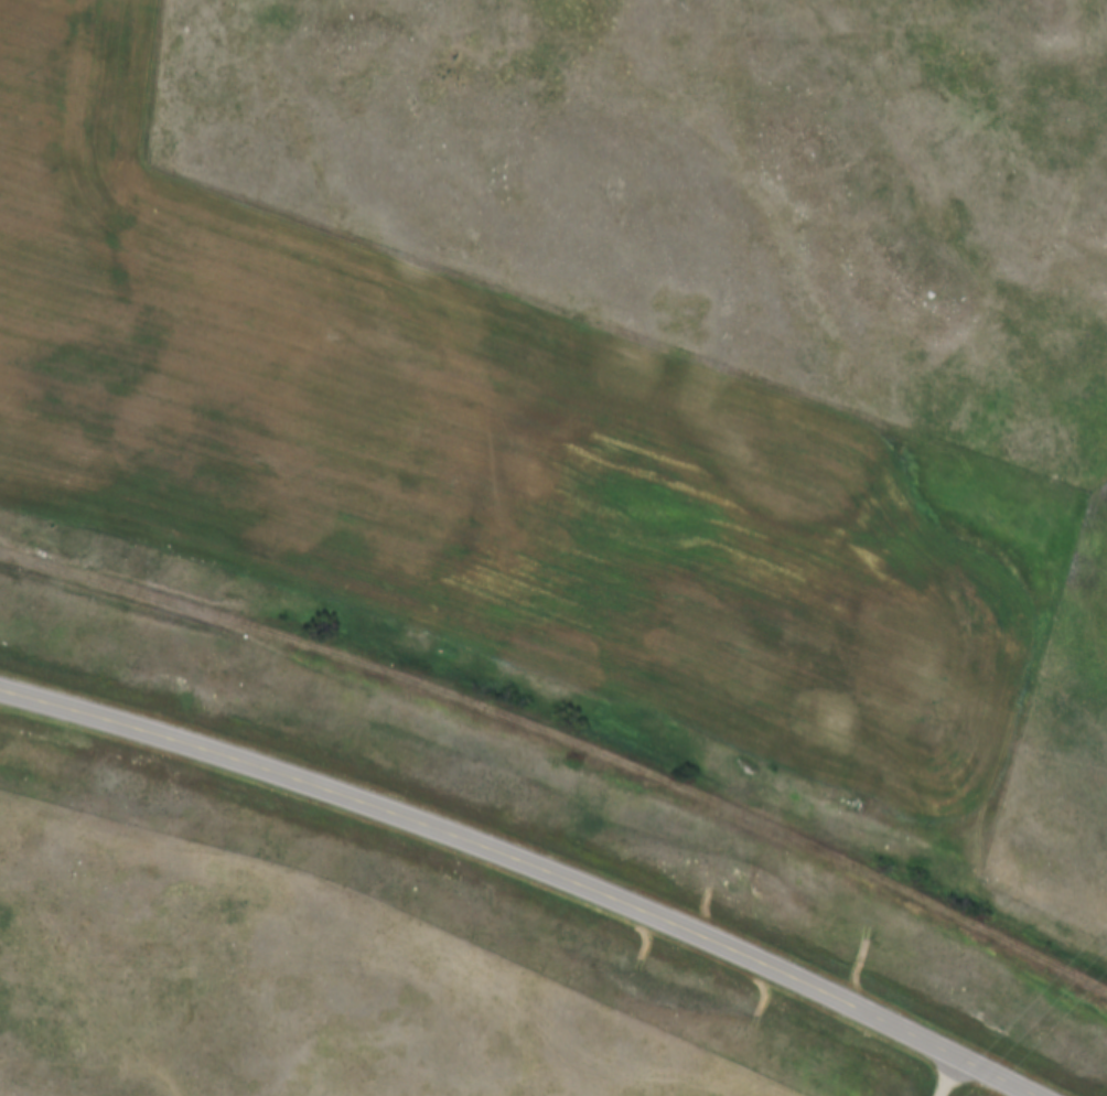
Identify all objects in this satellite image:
road: (534, 860)

